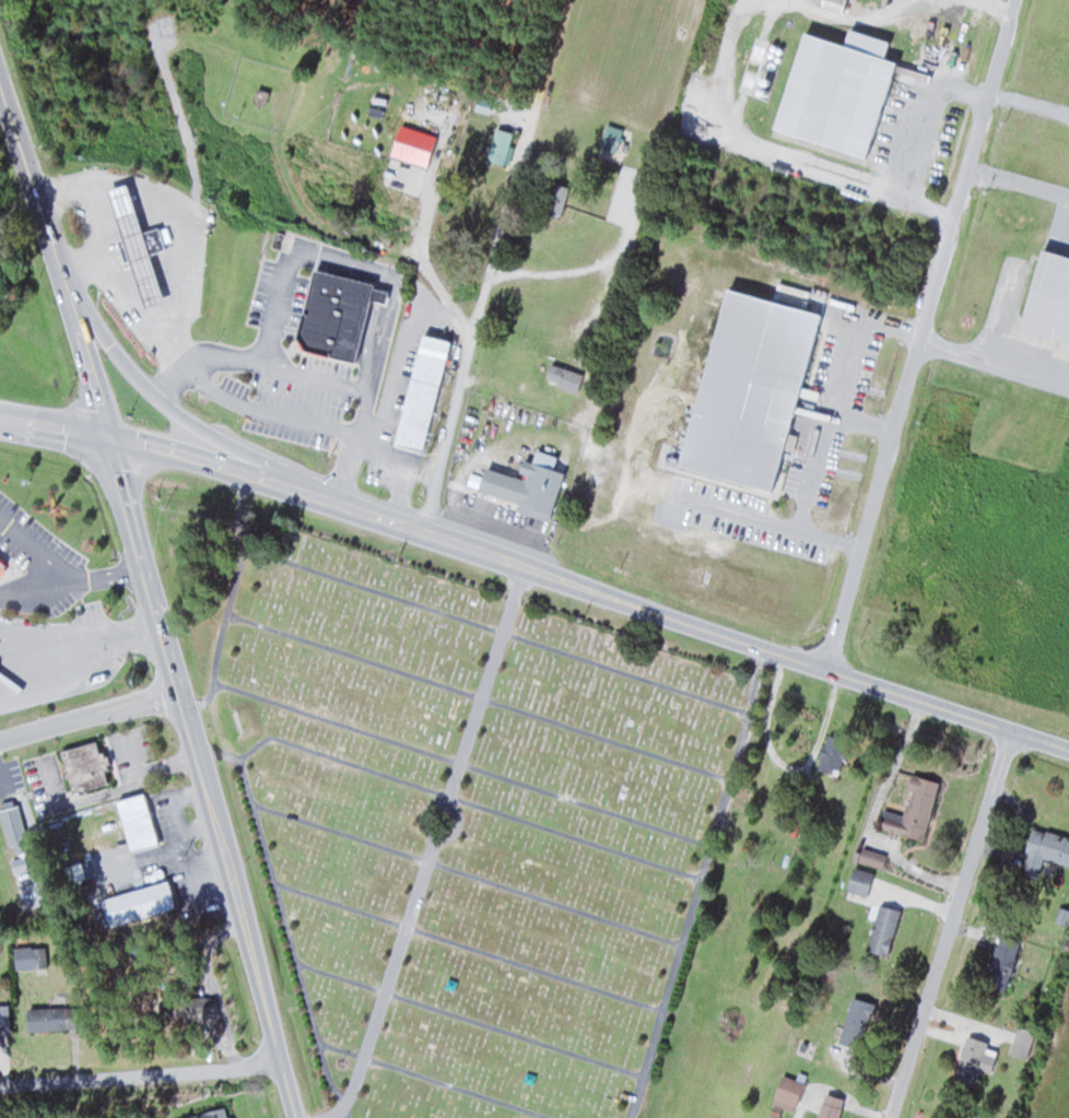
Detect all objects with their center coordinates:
building: (833, 81)
building: (504, 149)
building: (554, 198)
building: (146, 243)
building: (139, 246)
road: (474, 262)
building: (1047, 299)
building: (331, 316)
road: (919, 333)
building: (563, 377)
building: (748, 389)
building: (421, 392)
road: (178, 411)
road: (54, 426)
traffic signals: (108, 436)
building: (525, 483)
building: (2, 563)
road: (562, 577)
road: (152, 598)
road: (231, 600)
road: (493, 628)
road: (479, 697)
road: (89, 715)
road: (1041, 740)
building: (832, 758)
road: (462, 763)
building: (84, 766)
road: (468, 801)
park: (455, 810)
building: (913, 810)
building: (136, 822)
building: (13, 824)
building: (1044, 850)
building: (872, 857)
road: (427, 859)
building: (74, 872)
road: (467, 873)
building: (859, 881)
road: (700, 883)
building: (138, 903)
road: (285, 917)
road: (951, 925)
building: (882, 930)
road: (469, 945)
building: (1001, 962)
building: (187, 1008)
building: (47, 1017)
road: (472, 1019)
building: (4, 1020)
building: (1023, 1038)
building: (971, 1059)
road: (140, 1071)
road: (433, 1081)
building: (787, 1095)
building: (830, 1107)
building: (211, 1114)

